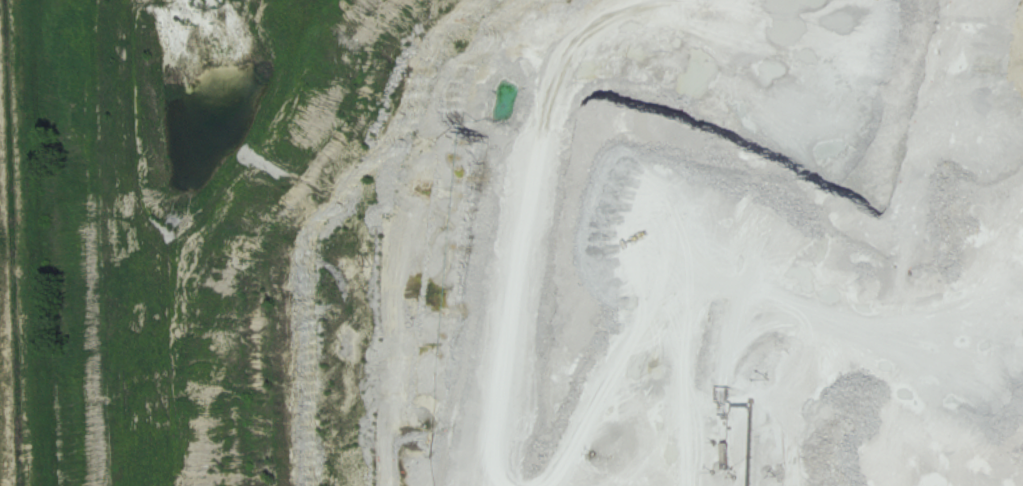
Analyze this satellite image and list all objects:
quarry: (511, 243)

